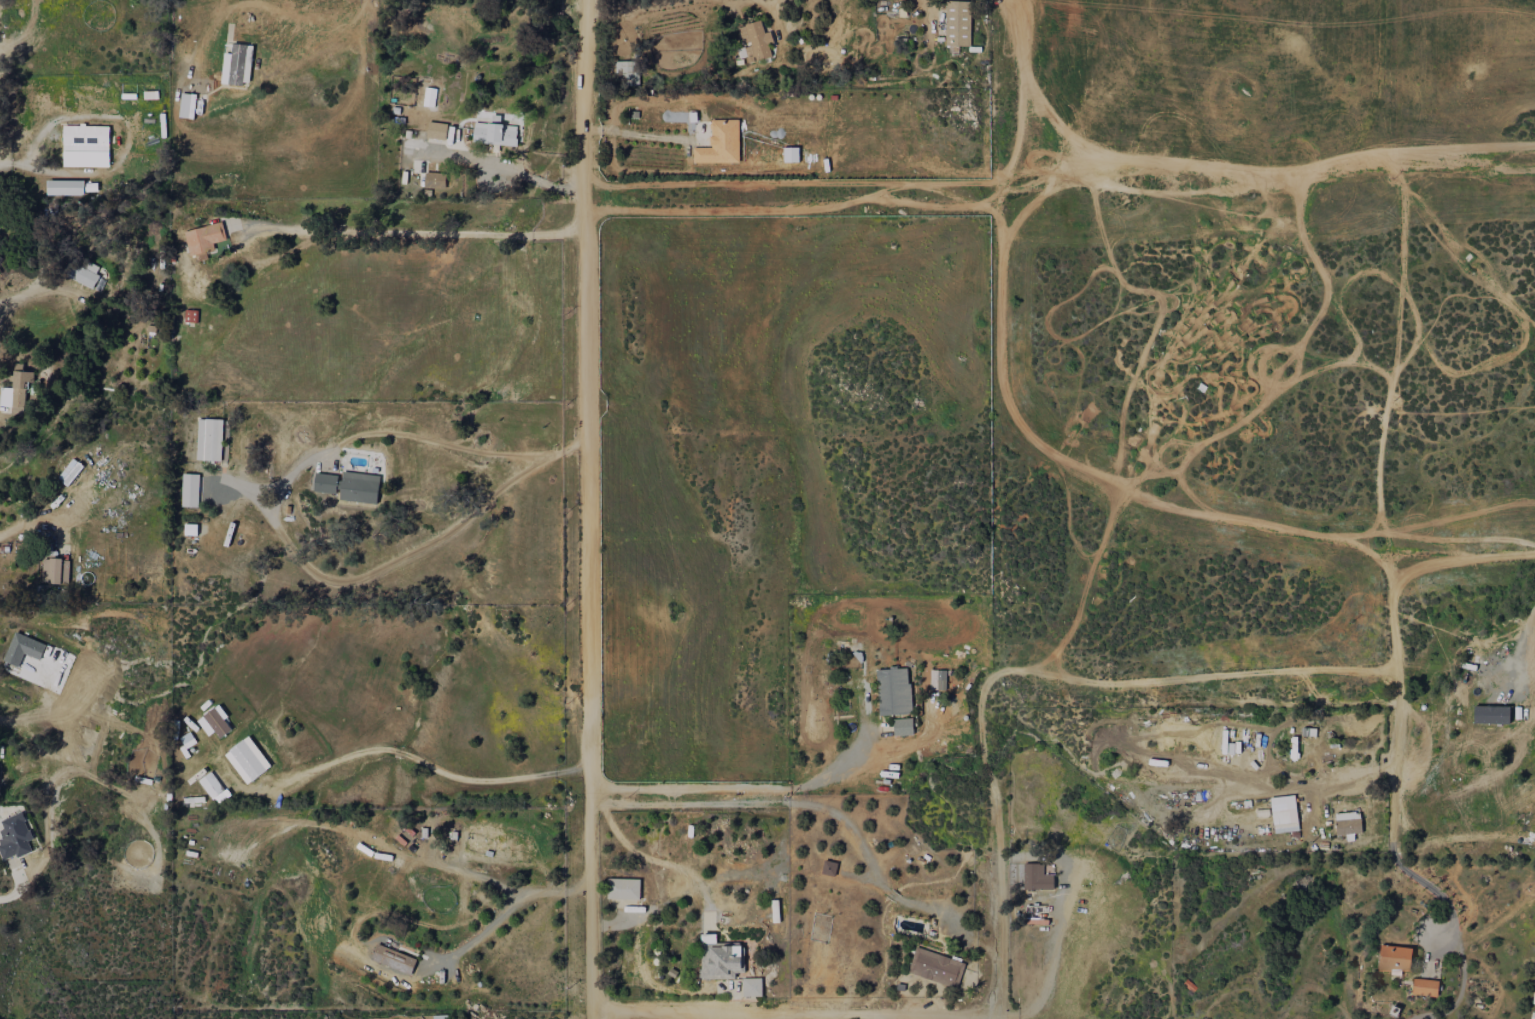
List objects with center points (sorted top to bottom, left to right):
road: (1003, 1)
road: (781, 3)
road: (768, 6)
road: (627, 7)
building: (957, 25)
building: (755, 41)
building: (236, 64)
building: (627, 73)
road: (1019, 97)
road: (631, 132)
building: (494, 133)
building: (720, 143)
building: (85, 145)
road: (501, 166)
road: (1262, 181)
road: (415, 232)
building: (204, 238)
road: (999, 244)
building: (83, 273)
building: (16, 390)
building: (209, 439)
building: (70, 472)
building: (325, 483)
building: (359, 487)
building: (189, 490)
road: (1137, 493)
road: (588, 509)
road: (20, 524)
road: (1462, 558)
building: (54, 570)
building: (23, 649)
road: (1522, 653)
road: (1252, 672)
building: (940, 679)
building: (893, 691)
road: (1396, 712)
building: (1491, 714)
building: (214, 722)
building: (902, 726)
building: (187, 740)
building: (247, 759)
road: (454, 775)
road: (728, 786)
building: (213, 787)
road: (792, 803)
building: (1283, 814)
building: (1347, 823)
road: (993, 824)
building: (14, 836)
building: (828, 868)
building: (1036, 877)
building: (623, 888)
road: (1440, 896)
road: (503, 913)
building: (719, 958)
building: (393, 959)
building: (1394, 959)
building: (936, 967)
building: (1534, 982)
road: (1049, 983)
building: (751, 987)
building: (1424, 987)
building: (1533, 998)
road: (793, 1008)
building: (1532, 1015)
road: (996, 1016)

